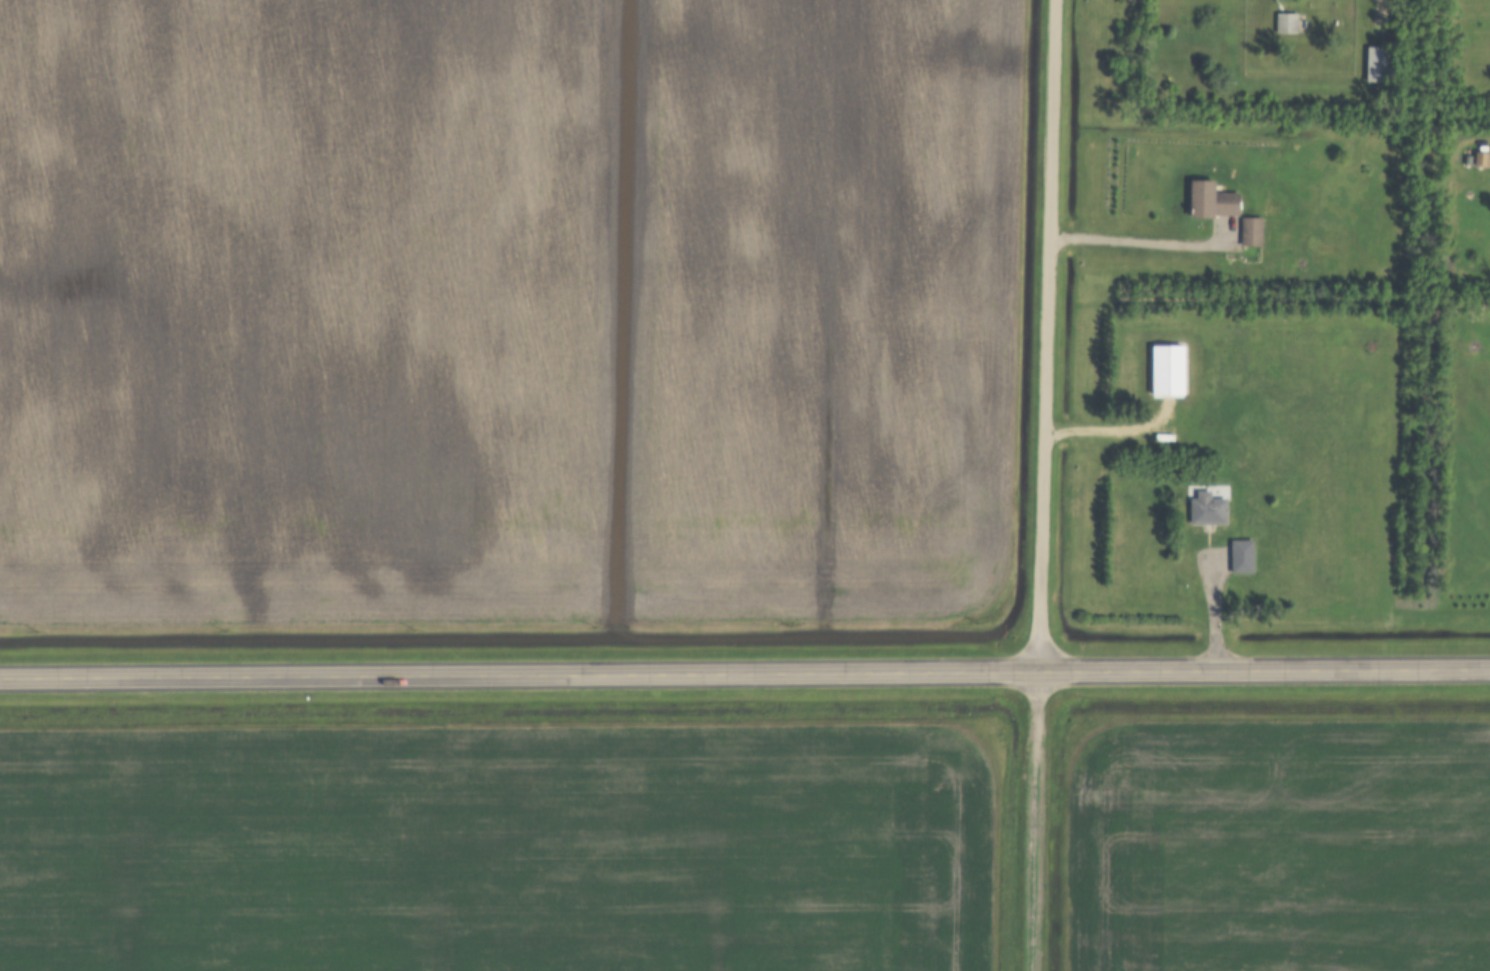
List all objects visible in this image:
building: (1284, 22)
building: (1375, 63)
building: (1481, 158)
building: (1209, 198)
building: (1249, 229)
road: (1142, 242)
crop: (504, 310)
road: (1044, 335)
building: (1166, 368)
road: (1111, 430)
building: (1206, 508)
building: (1240, 555)
road: (1214, 611)
road: (745, 673)
road: (1035, 821)
crop: (1274, 844)
crop: (496, 847)

